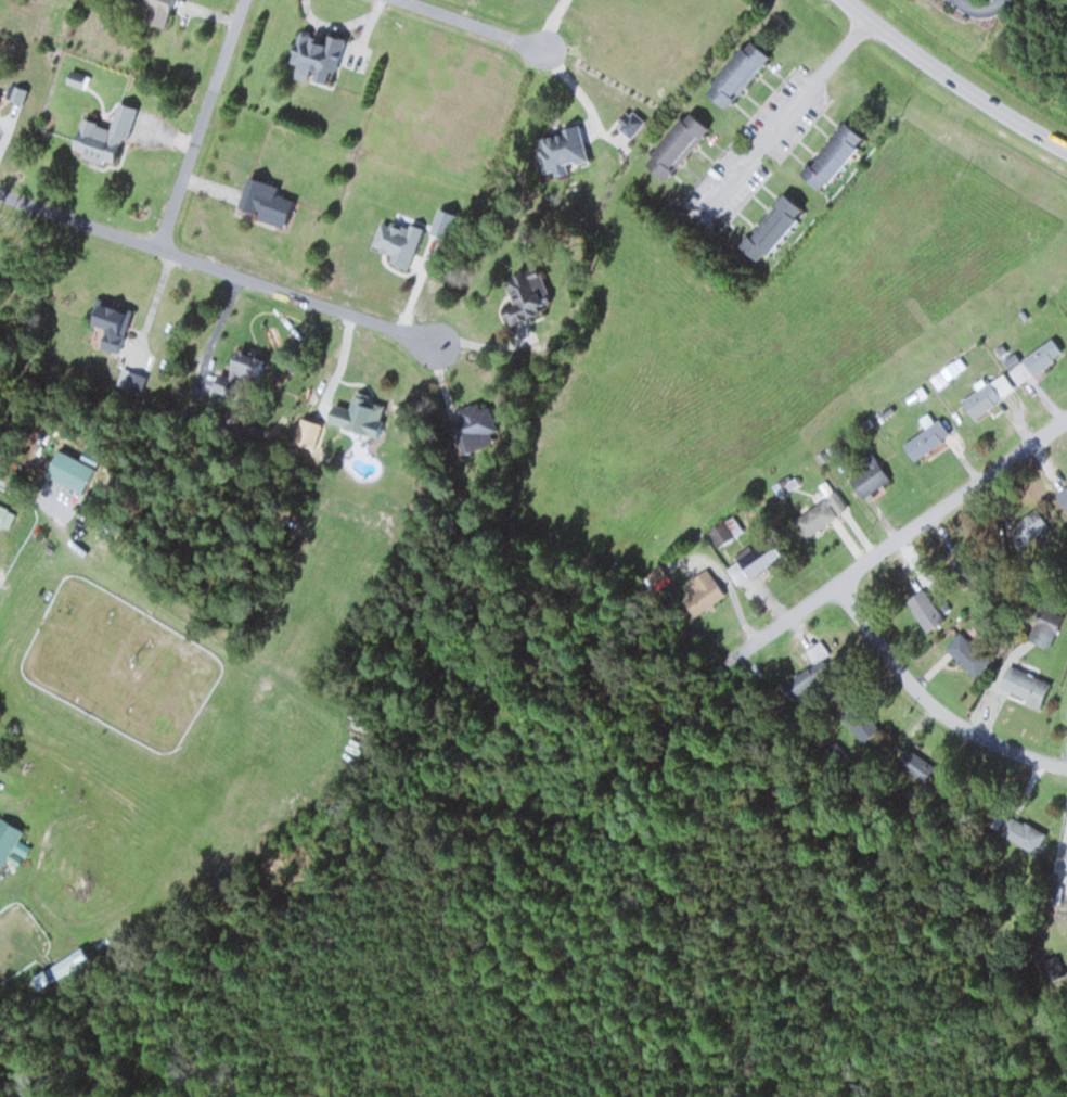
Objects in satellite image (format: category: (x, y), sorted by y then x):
road: (981, 5)
building: (156, 11)
road: (476, 27)
building: (314, 59)
building: (734, 73)
building: (73, 79)
road: (955, 79)
road: (786, 112)
road: (202, 123)
building: (101, 136)
building: (672, 144)
building: (561, 151)
building: (828, 155)
building: (263, 202)
building: (767, 227)
building: (396, 242)
road: (229, 269)
building: (523, 295)
building: (108, 322)
building: (1034, 360)
building: (244, 368)
building: (987, 395)
building: (356, 416)
building: (472, 429)
building: (924, 439)
building: (866, 479)
building: (819, 514)
building: (5, 516)
building: (719, 533)
road: (896, 541)
building: (748, 560)
building: (654, 575)
building: (697, 601)
building: (923, 609)
building: (1043, 627)
building: (818, 652)
building: (968, 656)
building: (1021, 686)
road: (931, 701)
building: (1066, 716)
building: (860, 723)
building: (835, 758)
building: (913, 764)
building: (1017, 831)
building: (1065, 857)
building: (60, 968)
building: (1051, 968)

